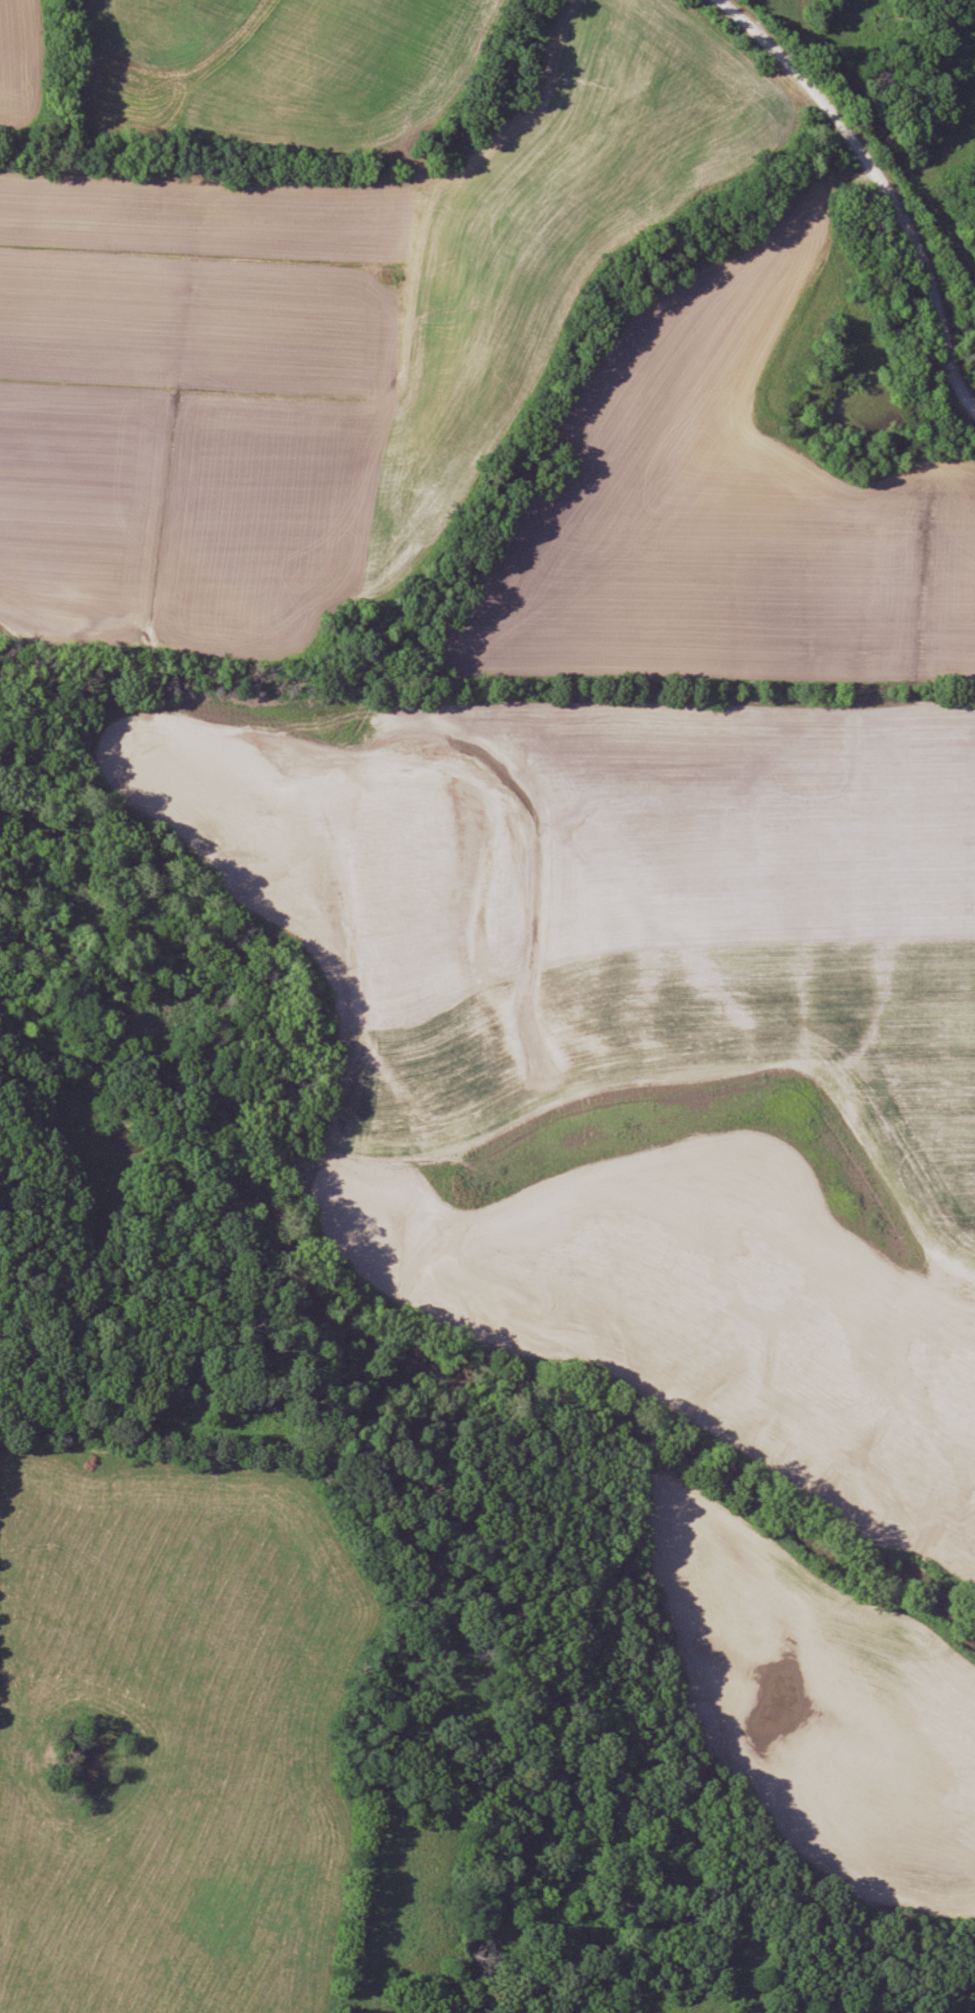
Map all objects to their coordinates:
road: (883, 185)

